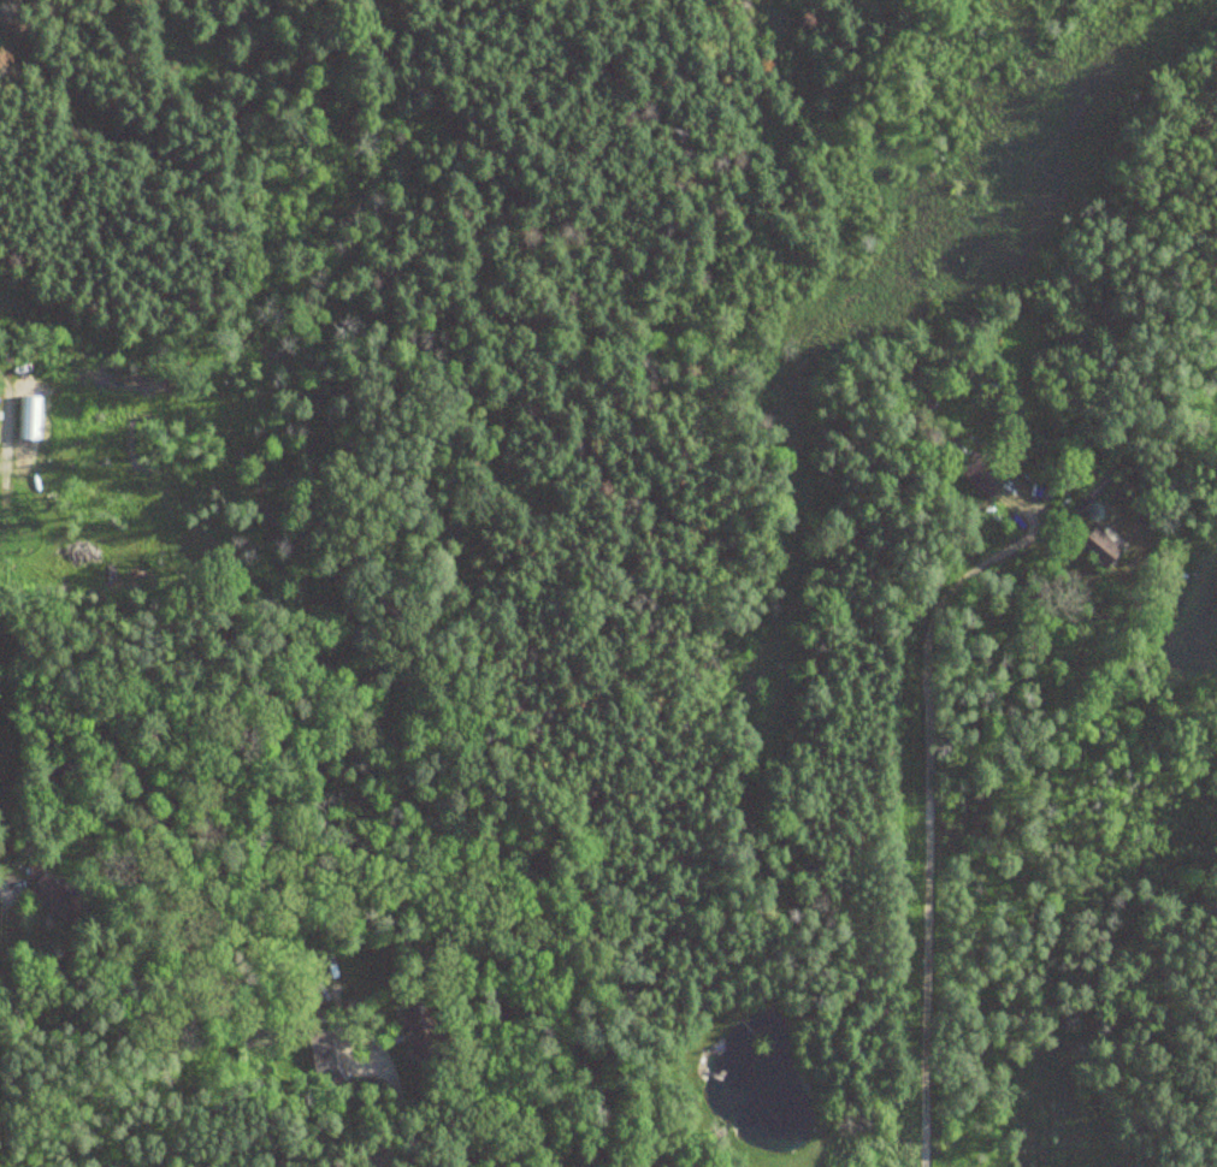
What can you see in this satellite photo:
building: (979, 474)
building: (1098, 482)
building: (1095, 549)
road: (896, 800)
building: (48, 899)
building: (414, 1033)
building: (318, 1048)

